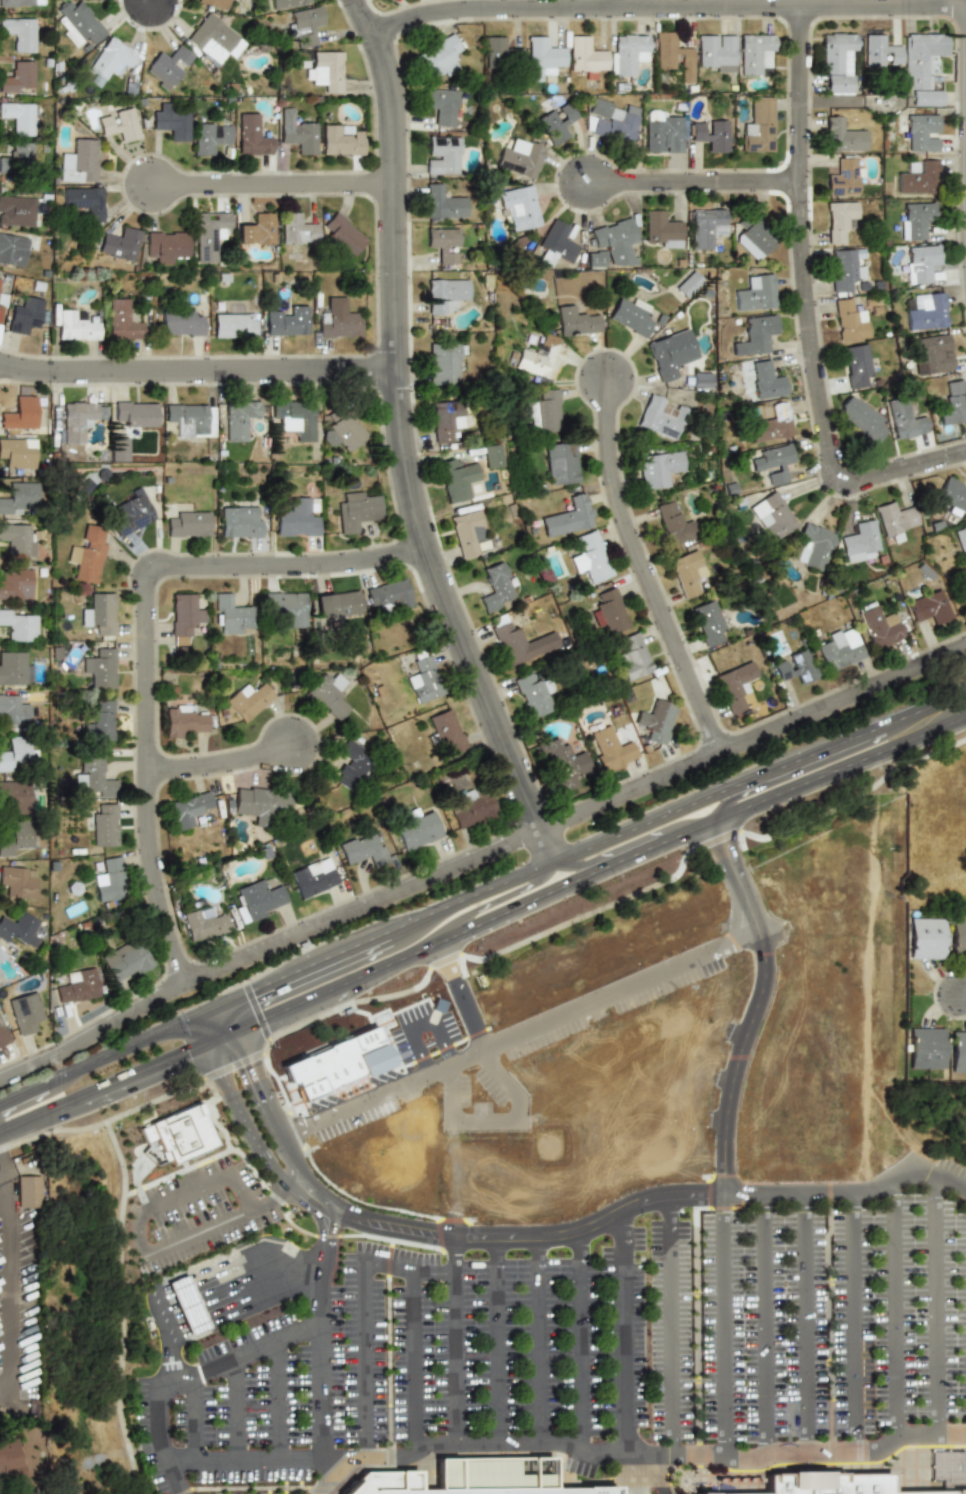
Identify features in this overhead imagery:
building: (15, 2)
building: (212, 3)
building: (285, 3)
road: (625, 5)
road: (163, 6)
road: (667, 9)
building: (75, 23)
building: (303, 26)
building: (17, 34)
building: (211, 39)
building: (879, 51)
building: (501, 52)
building: (627, 53)
building: (672, 53)
building: (715, 53)
building: (754, 53)
building: (543, 54)
building: (586, 56)
building: (438, 58)
building: (107, 60)
building: (836, 61)
building: (921, 66)
building: (165, 67)
building: (325, 70)
building: (16, 77)
building: (442, 107)
building: (17, 118)
building: (610, 119)
building: (168, 121)
building: (556, 122)
building: (116, 124)
building: (758, 126)
building: (296, 131)
building: (921, 131)
building: (662, 133)
building: (709, 133)
building: (843, 134)
building: (251, 135)
building: (207, 137)
building: (339, 140)
building: (442, 155)
building: (520, 157)
building: (16, 159)
building: (76, 161)
building: (844, 177)
building: (917, 178)
road: (691, 181)
road: (278, 199)
building: (82, 202)
building: (442, 202)
building: (518, 207)
building: (16, 210)
building: (914, 219)
building: (837, 221)
building: (706, 228)
building: (662, 229)
building: (255, 230)
building: (296, 230)
building: (208, 235)
building: (341, 235)
building: (753, 238)
building: (558, 241)
building: (117, 244)
building: (442, 244)
building: (163, 245)
building: (611, 245)
building: (12, 250)
building: (919, 263)
building: (845, 268)
building: (687, 285)
building: (754, 293)
building: (444, 295)
building: (1, 301)
building: (924, 311)
building: (25, 312)
road: (805, 313)
building: (630, 316)
building: (120, 320)
building: (337, 320)
building: (847, 320)
building: (575, 321)
building: (284, 322)
building: (178, 323)
building: (230, 325)
building: (73, 326)
building: (755, 335)
building: (670, 354)
building: (931, 355)
building: (539, 358)
building: (442, 362)
building: (856, 365)
building: (763, 379)
building: (701, 380)
road: (198, 386)
building: (952, 403)
building: (19, 413)
building: (540, 413)
building: (134, 414)
building: (187, 415)
building: (660, 417)
building: (236, 418)
building: (290, 418)
building: (861, 418)
building: (904, 418)
building: (78, 419)
building: (442, 420)
building: (771, 423)
building: (338, 431)
road: (402, 441)
building: (117, 449)
building: (16, 451)
building: (488, 455)
building: (560, 462)
building: (772, 463)
building: (658, 469)
building: (453, 479)
building: (952, 496)
building: (18, 498)
building: (354, 510)
building: (130, 514)
building: (772, 516)
building: (568, 517)
building: (295, 519)
building: (894, 520)
building: (240, 521)
building: (188, 524)
building: (673, 524)
building: (463, 532)
building: (15, 538)
building: (960, 538)
building: (860, 541)
building: (814, 547)
building: (87, 555)
building: (589, 557)
road: (640, 568)
building: (688, 573)
building: (16, 584)
building: (492, 587)
building: (965, 591)
building: (387, 595)
building: (336, 604)
building: (281, 606)
building: (929, 607)
building: (608, 611)
building: (100, 613)
building: (231, 615)
building: (183, 616)
building: (708, 622)
building: (18, 625)
building: (878, 625)
building: (517, 641)
road: (151, 645)
building: (838, 648)
building: (631, 656)
building: (796, 666)
building: (12, 668)
building: (100, 668)
building: (421, 677)
building: (735, 685)
building: (330, 695)
building: (531, 695)
road: (944, 697)
building: (248, 700)
building: (12, 711)
building: (99, 721)
building: (185, 721)
building: (655, 721)
building: (445, 732)
building: (609, 749)
building: (14, 754)
building: (351, 761)
building: (562, 762)
road: (816, 764)
road: (838, 767)
road: (224, 776)
building: (93, 777)
road: (738, 785)
building: (15, 797)
building: (262, 800)
building: (468, 808)
building: (187, 809)
building: (103, 825)
road: (692, 829)
building: (417, 831)
building: (15, 838)
building: (359, 848)
road: (611, 850)
road: (479, 855)
building: (312, 877)
building: (110, 880)
building: (16, 882)
road: (542, 895)
road: (468, 897)
building: (258, 899)
road: (481, 906)
building: (203, 923)
building: (17, 927)
building: (958, 934)
building: (925, 938)
road: (715, 950)
building: (1, 954)
building: (124, 961)
road: (303, 967)
building: (0, 970)
building: (77, 985)
road: (322, 993)
road: (457, 996)
road: (961, 998)
road: (596, 1001)
road: (727, 1003)
road: (208, 1009)
building: (25, 1012)
road: (227, 1018)
road: (425, 1027)
road: (202, 1029)
building: (2, 1034)
road: (220, 1037)
building: (925, 1048)
road: (120, 1049)
building: (957, 1051)
road: (444, 1065)
road: (145, 1070)
road: (22, 1093)
road: (350, 1107)
road: (40, 1114)
road: (240, 1115)
road: (270, 1118)
road: (496, 1122)
road: (293, 1131)
building: (178, 1133)
road: (3, 1179)
road: (208, 1179)
road: (278, 1188)
road: (300, 1190)
building: (28, 1191)
road: (3, 1192)
road: (208, 1225)
road: (323, 1225)
road: (136, 1228)
road: (655, 1240)
road: (281, 1249)
road: (284, 1252)
road: (212, 1264)
road: (216, 1272)
road: (241, 1275)
road: (161, 1280)
road: (118, 1283)
road: (244, 1284)
road: (7, 1294)
road: (245, 1295)
road: (158, 1303)
road: (935, 1304)
building: (186, 1305)
road: (248, 1305)
road: (893, 1309)
road: (723, 1322)
road: (765, 1322)
road: (853, 1322)
road: (805, 1323)
road: (367, 1334)
road: (413, 1338)
parking lot: (586, 1339)
road: (454, 1341)
road: (539, 1343)
road: (580, 1343)
road: (625, 1343)
road: (666, 1343)
road: (497, 1344)
road: (171, 1352)
road: (244, 1352)
road: (277, 1397)
road: (235, 1406)
road: (194, 1417)
road: (165, 1423)
road: (497, 1444)
road: (326, 1450)
road: (348, 1450)
road: (796, 1452)
building: (9, 1461)
road: (654, 1473)
road: (324, 1476)
building: (874, 1476)
building: (474, 1479)

